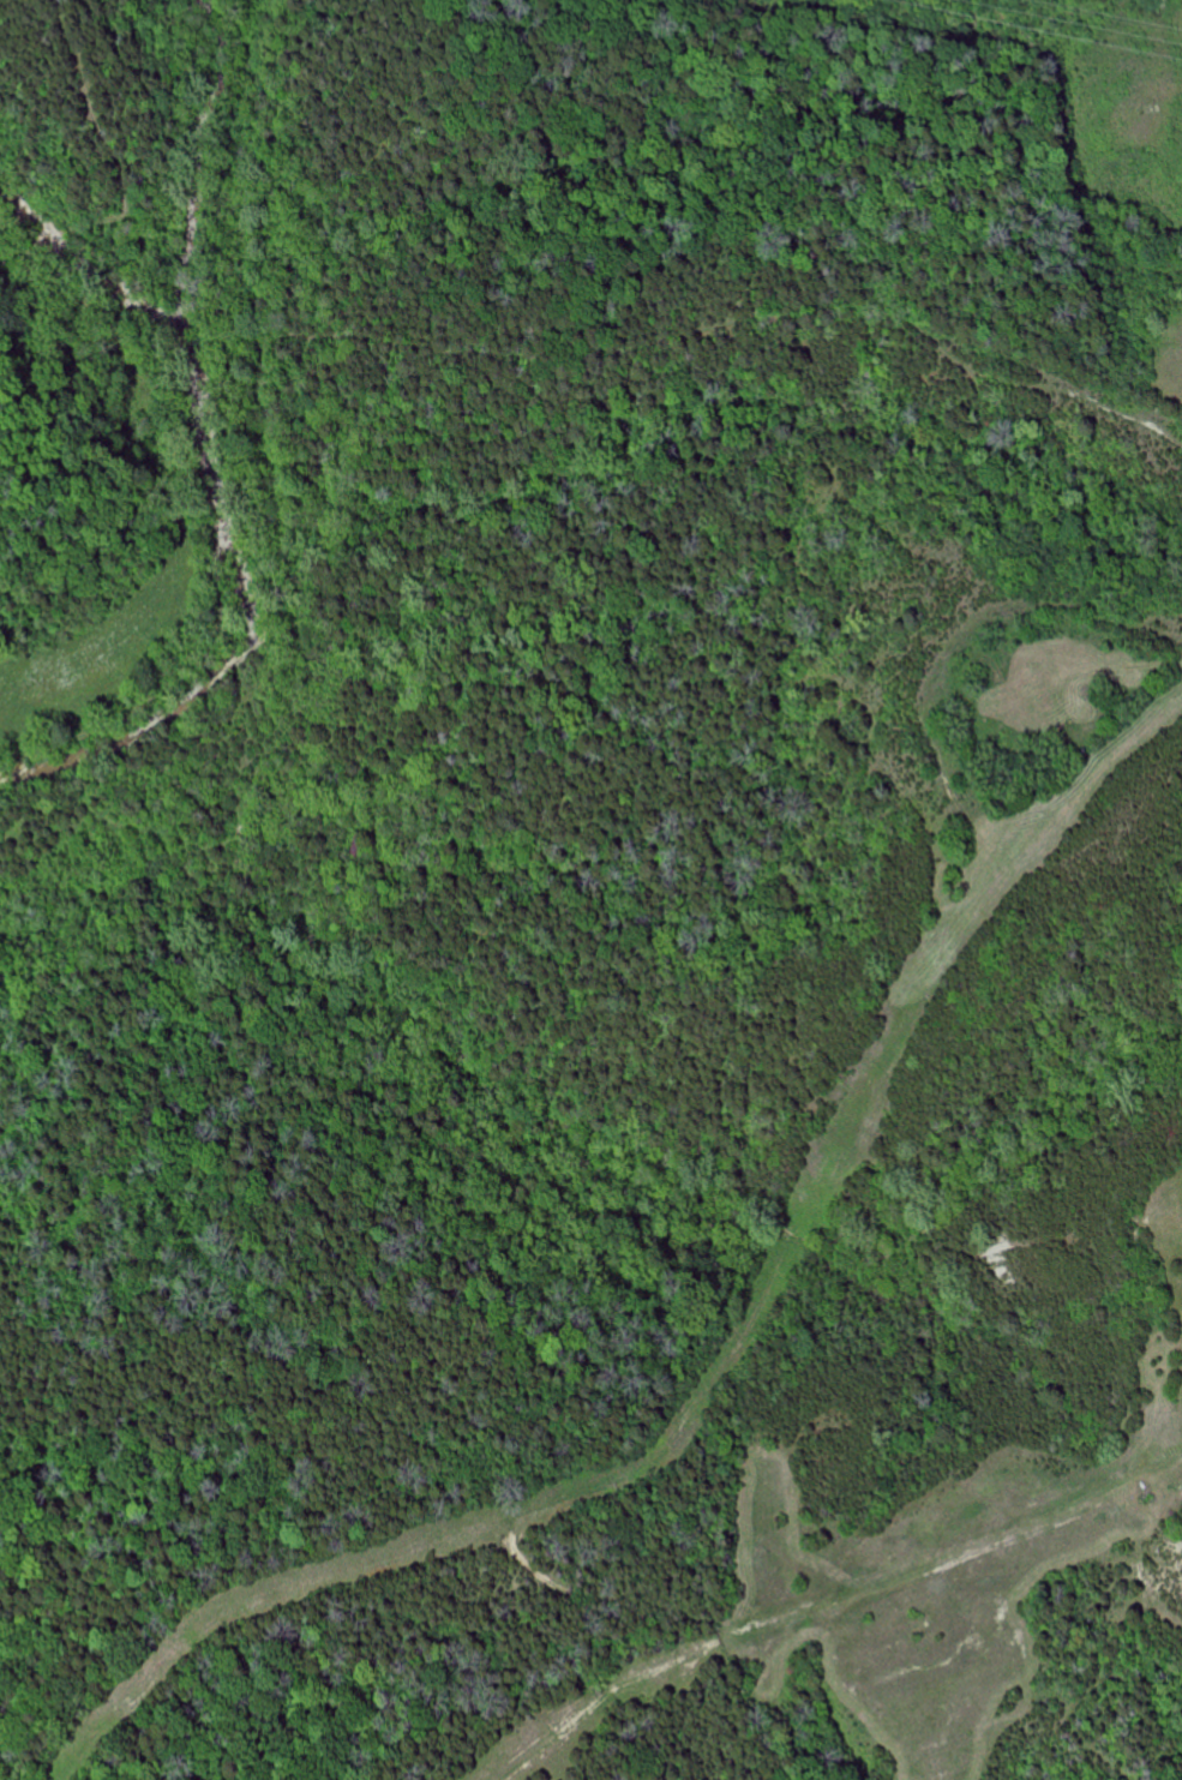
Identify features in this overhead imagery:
road: (170, 439)
road: (1180, 1400)

